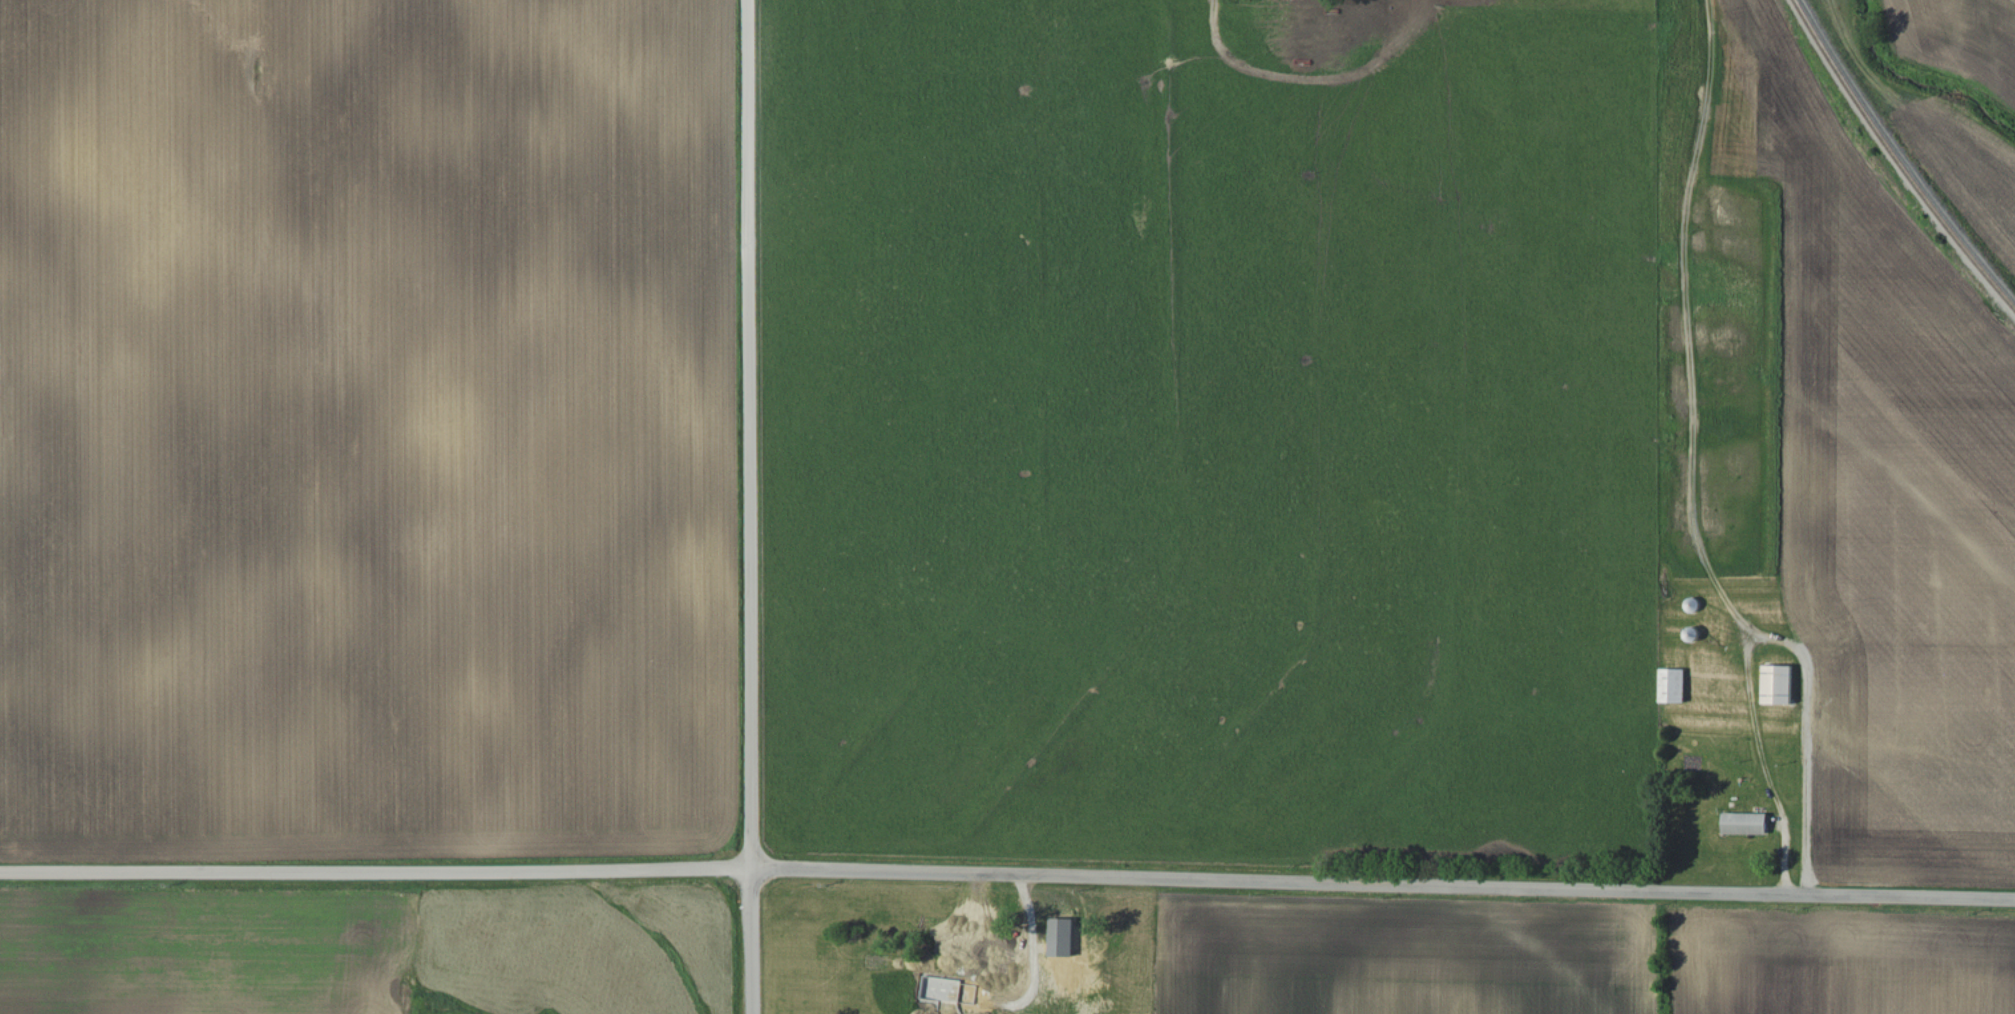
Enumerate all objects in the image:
railway: (1897, 159)
road: (749, 507)
building: (1777, 685)
building: (1672, 687)
building: (1744, 825)
road: (363, 872)
road: (1371, 885)

